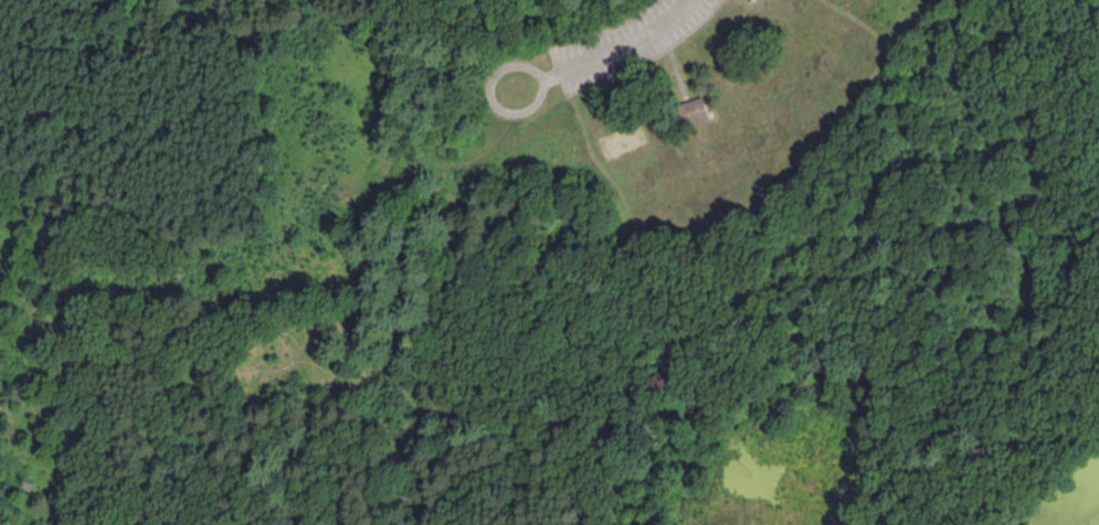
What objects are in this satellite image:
building: (752, 0)
road: (857, 8)
road: (1067, 40)
parking lot: (624, 41)
road: (625, 45)
road: (517, 58)
road: (651, 58)
road: (677, 75)
building: (689, 111)
park: (621, 139)
road: (353, 229)
park: (549, 262)
road: (548, 345)
road: (191, 358)
road: (522, 472)

